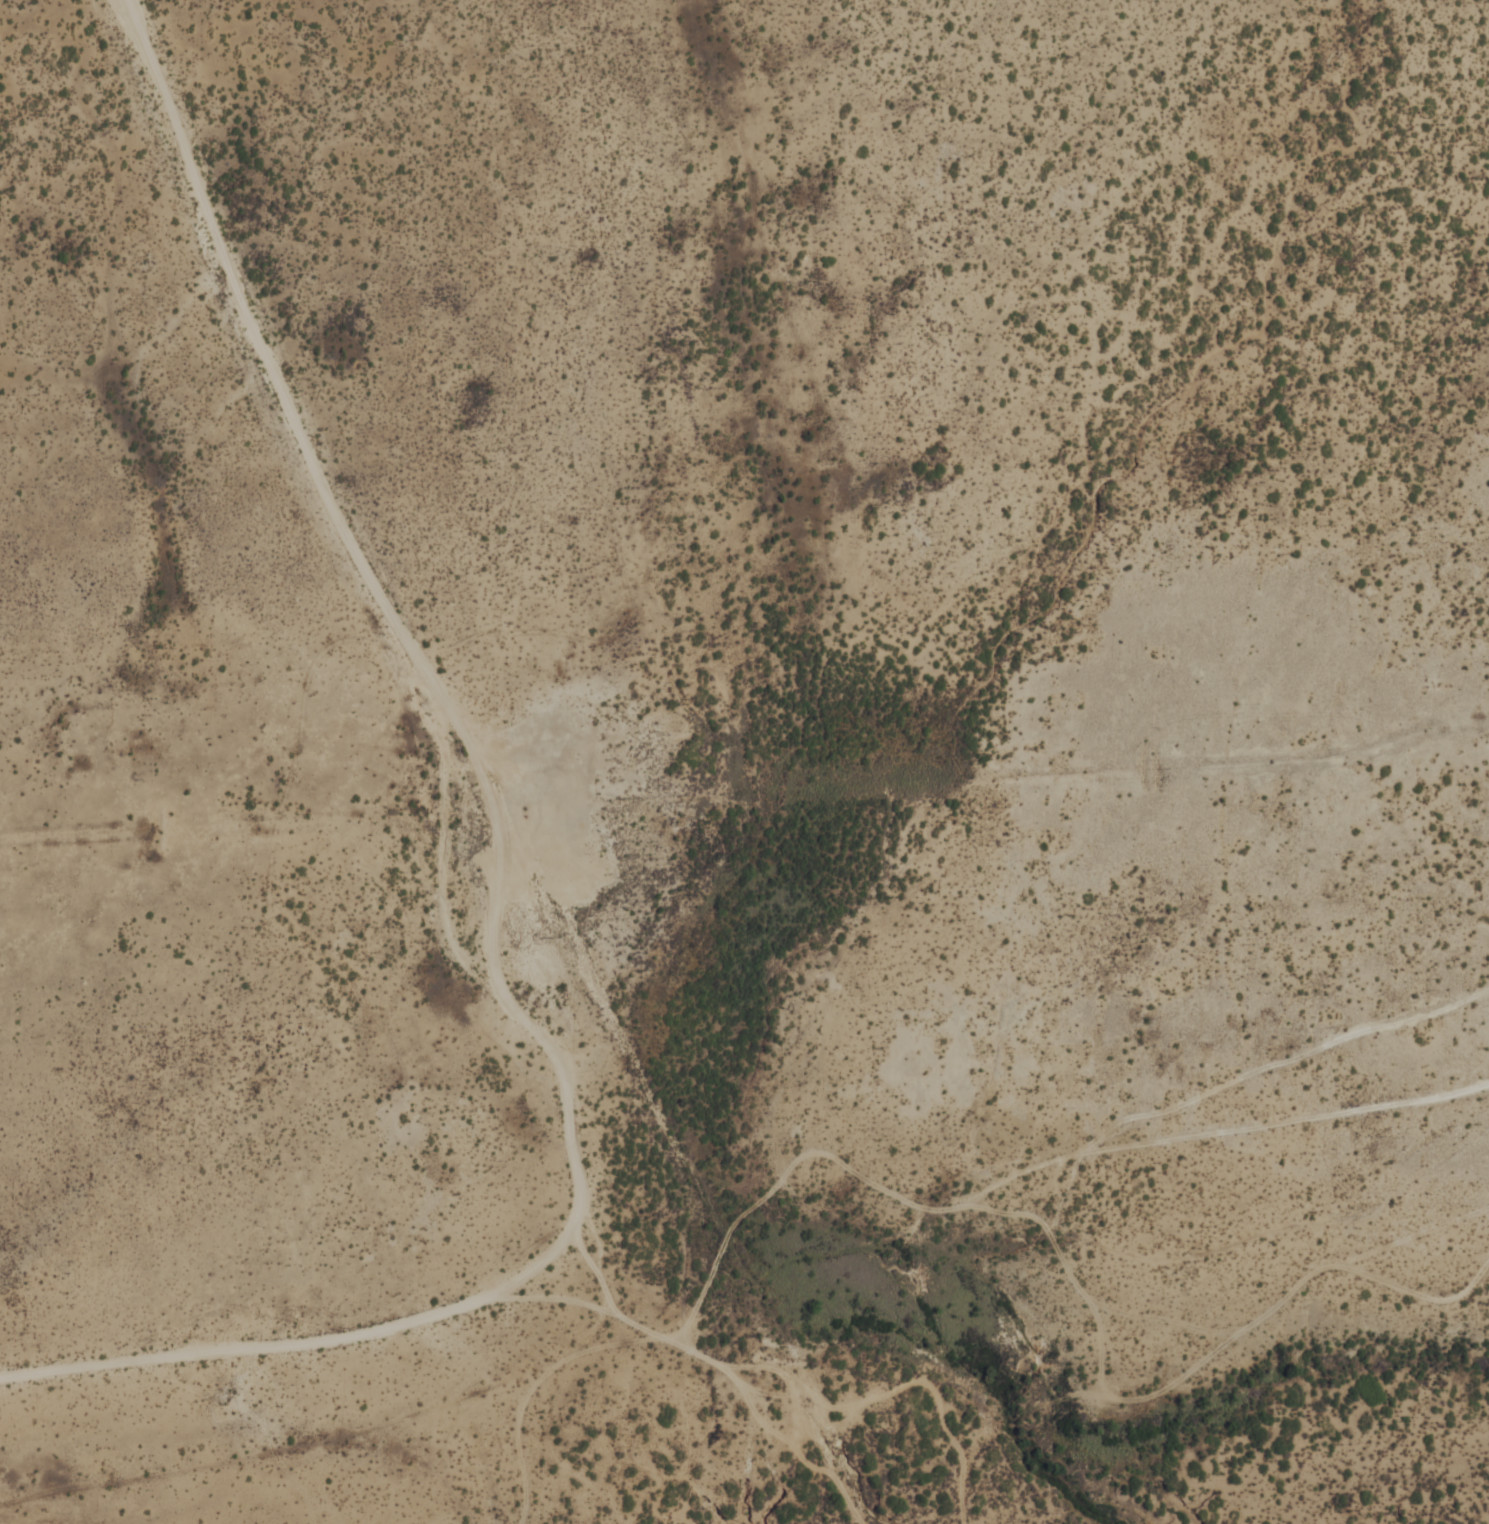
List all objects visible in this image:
road: (446, 709)
road: (565, 1246)
road: (589, 1336)
road: (757, 1366)
road: (536, 1386)
road: (937, 1394)
road: (844, 1458)

